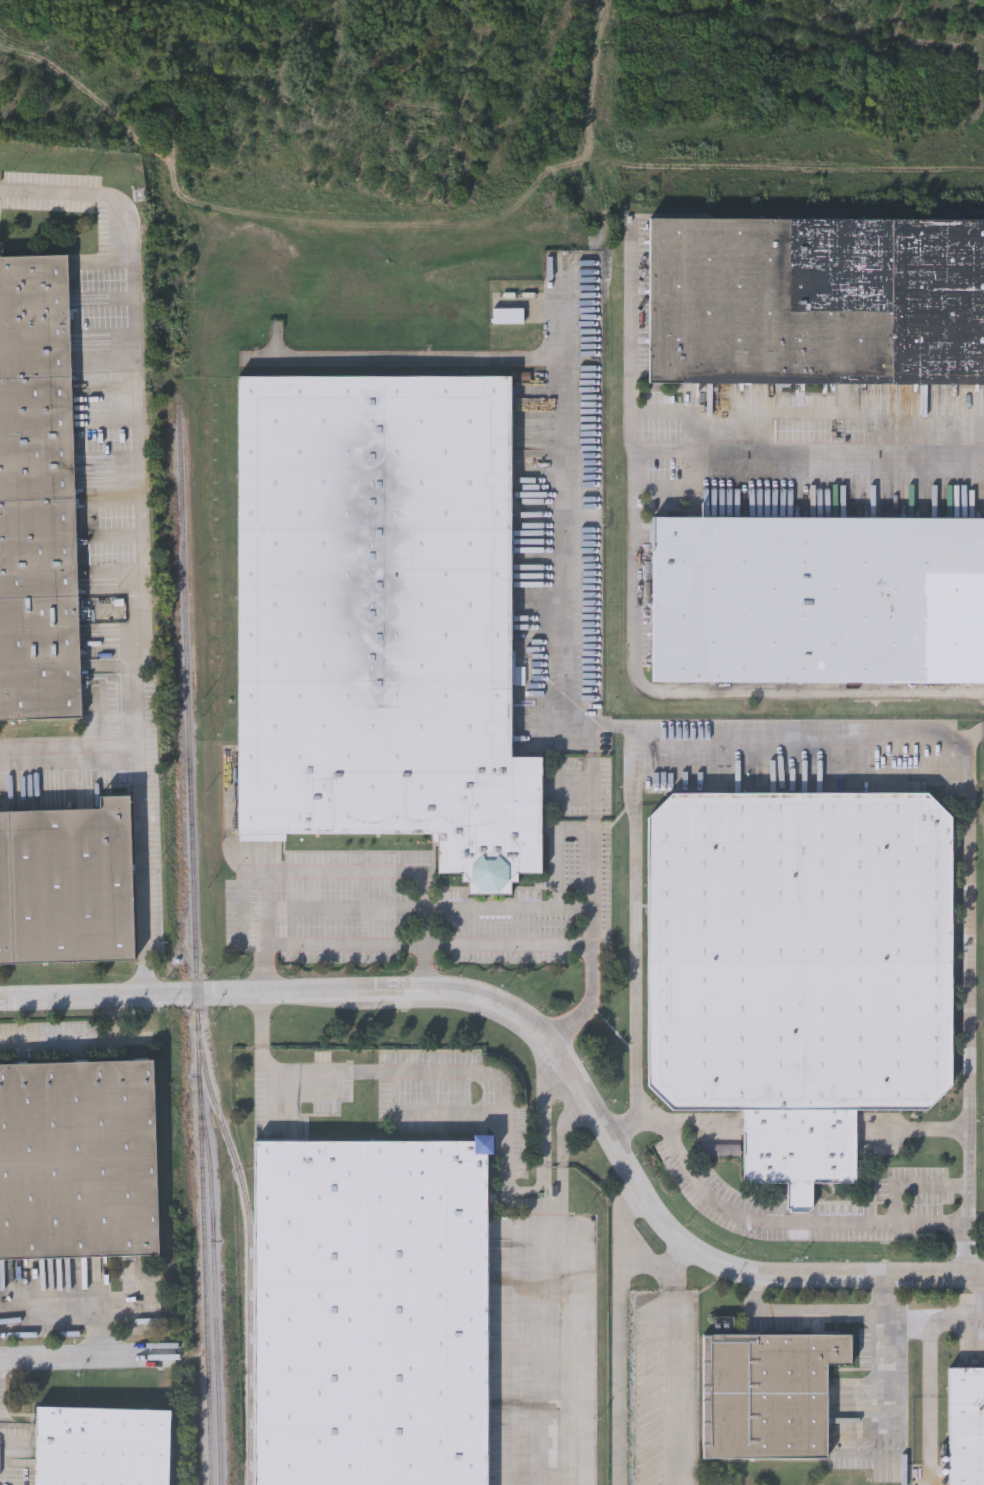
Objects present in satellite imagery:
building: (816, 304)
road: (409, 358)
road: (138, 411)
road: (698, 450)
building: (37, 492)
building: (818, 599)
building: (381, 616)
road: (560, 618)
road: (693, 691)
road: (614, 728)
road: (632, 759)
road: (141, 801)
road: (556, 853)
road: (346, 871)
building: (71, 893)
road: (428, 910)
railway: (194, 920)
road: (445, 946)
road: (423, 954)
building: (799, 969)
road: (423, 977)
road: (264, 979)
road: (965, 997)
road: (571, 1023)
road: (75, 1036)
road: (545, 1037)
road: (291, 1070)
road: (562, 1074)
road: (416, 1116)
road: (917, 1131)
building: (78, 1169)
road: (553, 1207)
road: (759, 1218)
railway: (251, 1247)
railway: (214, 1287)
road: (980, 1295)
road: (67, 1312)
road: (799, 1312)
building: (371, 1313)
road: (622, 1335)
road: (549, 1346)
road: (93, 1352)
road: (883, 1361)
road: (677, 1364)
road: (929, 1376)
building: (767, 1395)
building: (966, 1427)
building: (100, 1448)
railway: (175, 1460)

